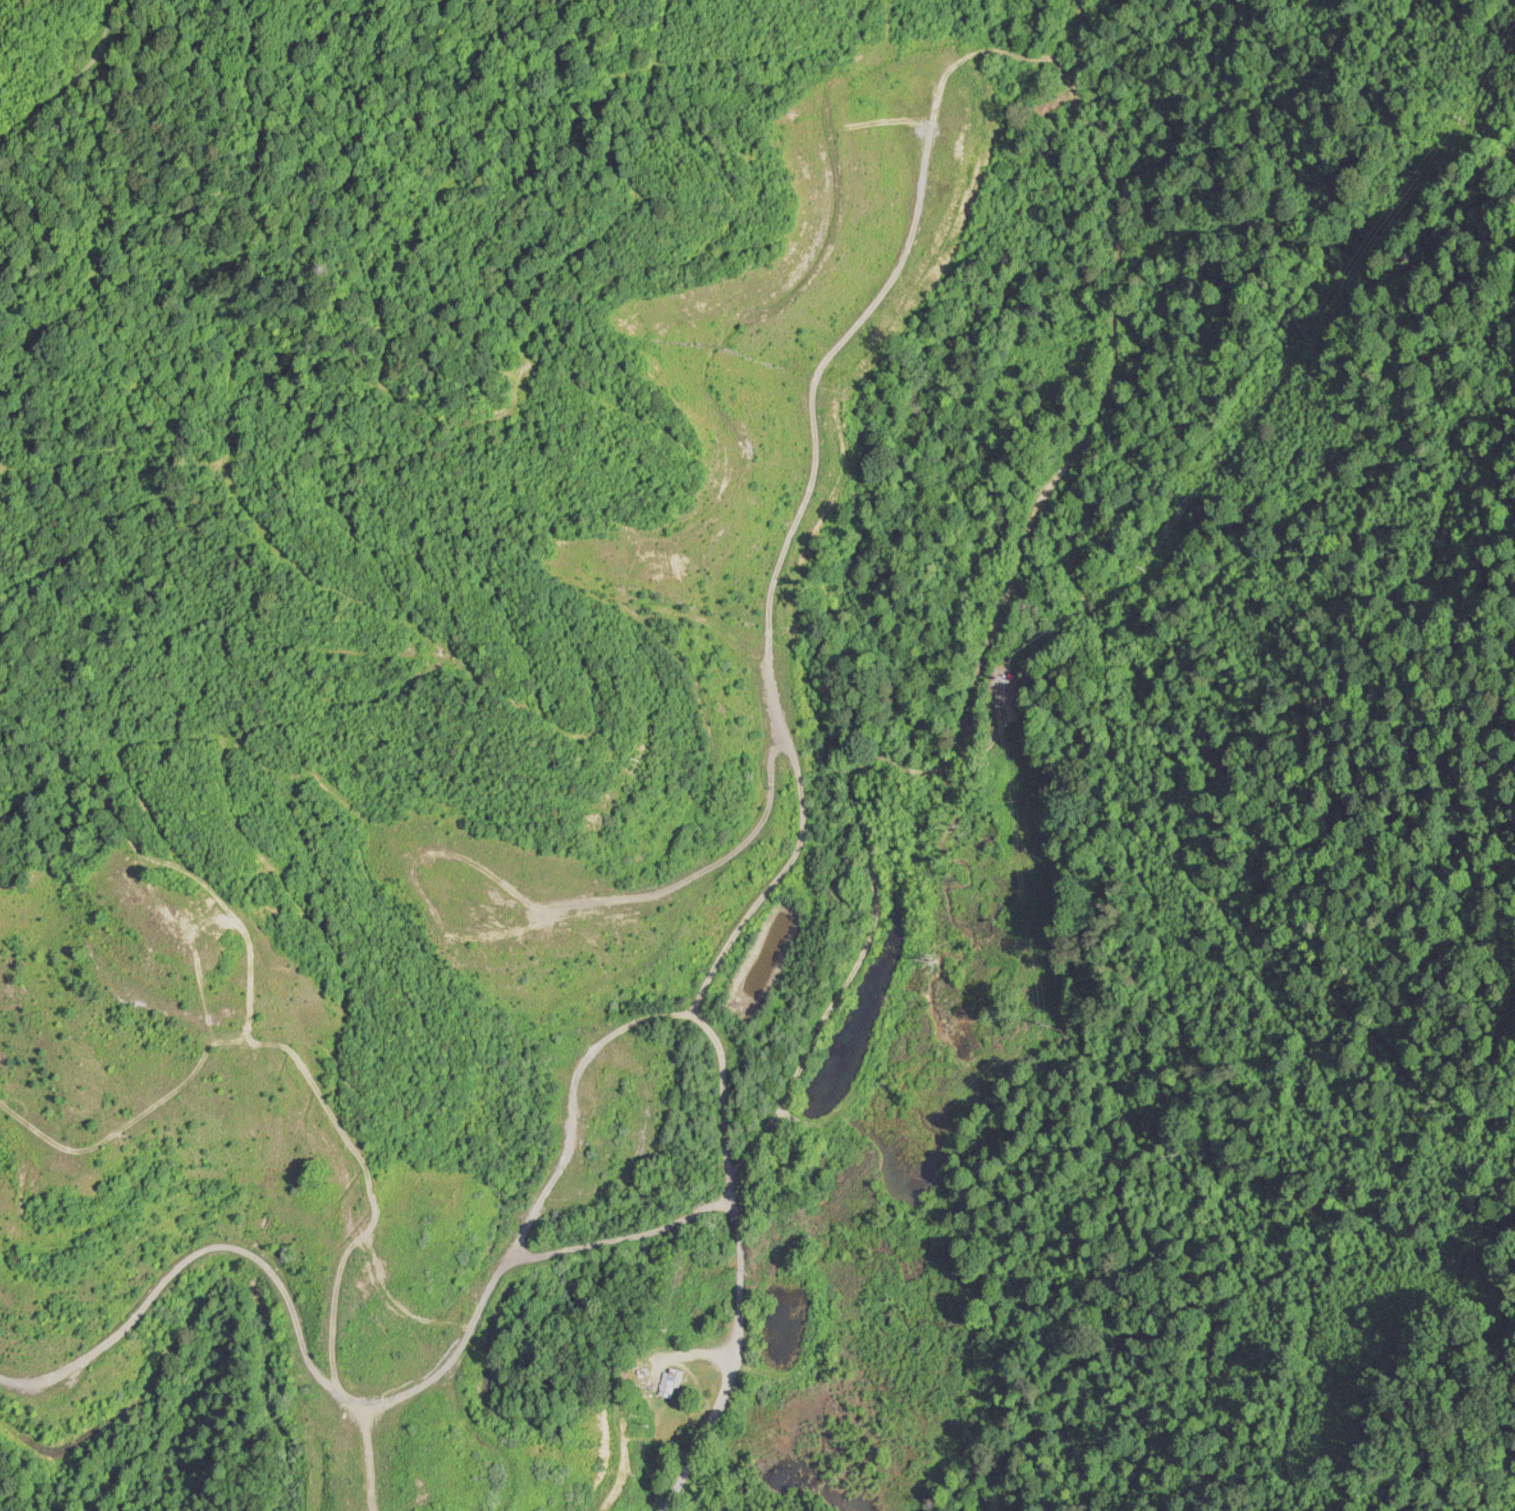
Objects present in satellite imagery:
quarry: (486, 822)
building: (597, 1120)
road: (728, 1356)
building: (669, 1381)

